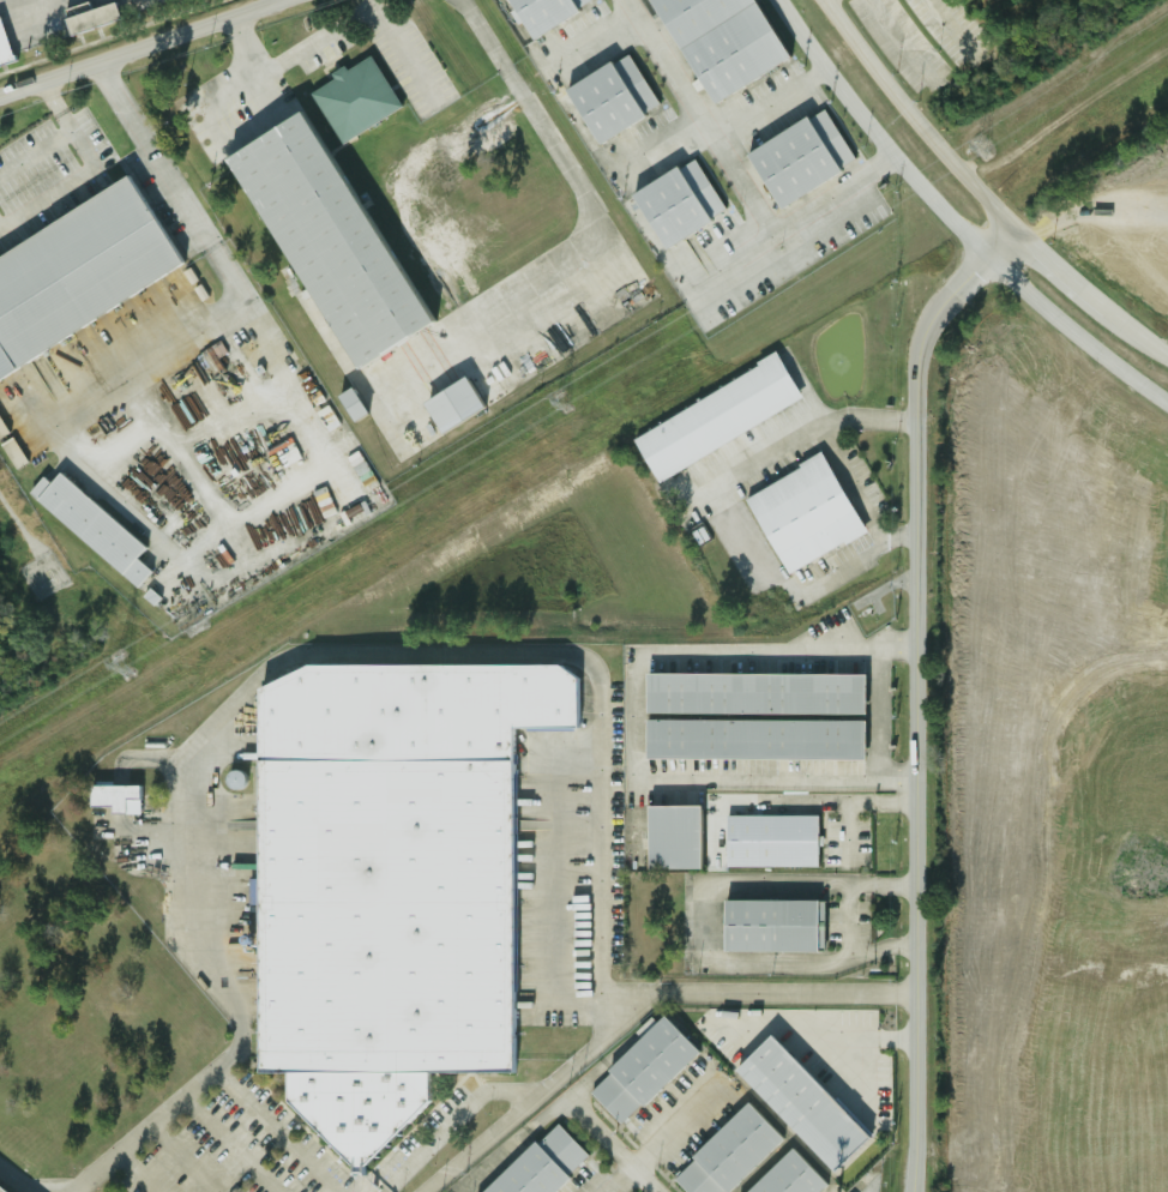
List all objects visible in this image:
building: (541, 12)
building: (89, 17)
road: (790, 37)
road: (584, 41)
building: (717, 41)
road: (134, 46)
road: (245, 49)
building: (2, 50)
road: (867, 59)
road: (301, 60)
road: (407, 60)
road: (830, 70)
building: (609, 97)
building: (353, 98)
road: (769, 104)
road: (696, 119)
road: (67, 125)
road: (542, 137)
road: (648, 148)
power tower: (980, 151)
road: (35, 152)
building: (797, 157)
parking lot: (53, 171)
road: (964, 176)
road: (831, 193)
road: (48, 199)
road: (934, 200)
building: (675, 203)
road: (205, 242)
building: (315, 243)
road: (724, 265)
building: (77, 272)
road: (1072, 281)
road: (1076, 333)
road: (1148, 344)
road: (144, 367)
road: (803, 385)
power tower: (561, 401)
building: (348, 404)
building: (446, 407)
building: (715, 419)
road: (787, 439)
road: (848, 482)
building: (802, 514)
building: (90, 526)
road: (163, 548)
road: (795, 591)
road: (778, 656)
road: (279, 662)
power tower: (120, 663)
road: (919, 692)
building: (754, 717)
road: (877, 717)
road: (634, 729)
road: (776, 776)
building: (112, 797)
road: (835, 802)
road: (847, 833)
building: (672, 837)
building: (769, 841)
road: (552, 874)
building: (386, 884)
road: (847, 920)
road: (700, 925)
building: (770, 926)
road: (758, 995)
road: (825, 1031)
building: (639, 1068)
road: (857, 1077)
road: (530, 1098)
building: (797, 1101)
road: (556, 1107)
road: (452, 1120)
road: (275, 1131)
road: (663, 1136)
road: (227, 1145)
road: (608, 1145)
building: (727, 1154)
road: (180, 1160)
building: (538, 1163)
road: (136, 1173)
building: (787, 1176)
road: (14, 1180)

